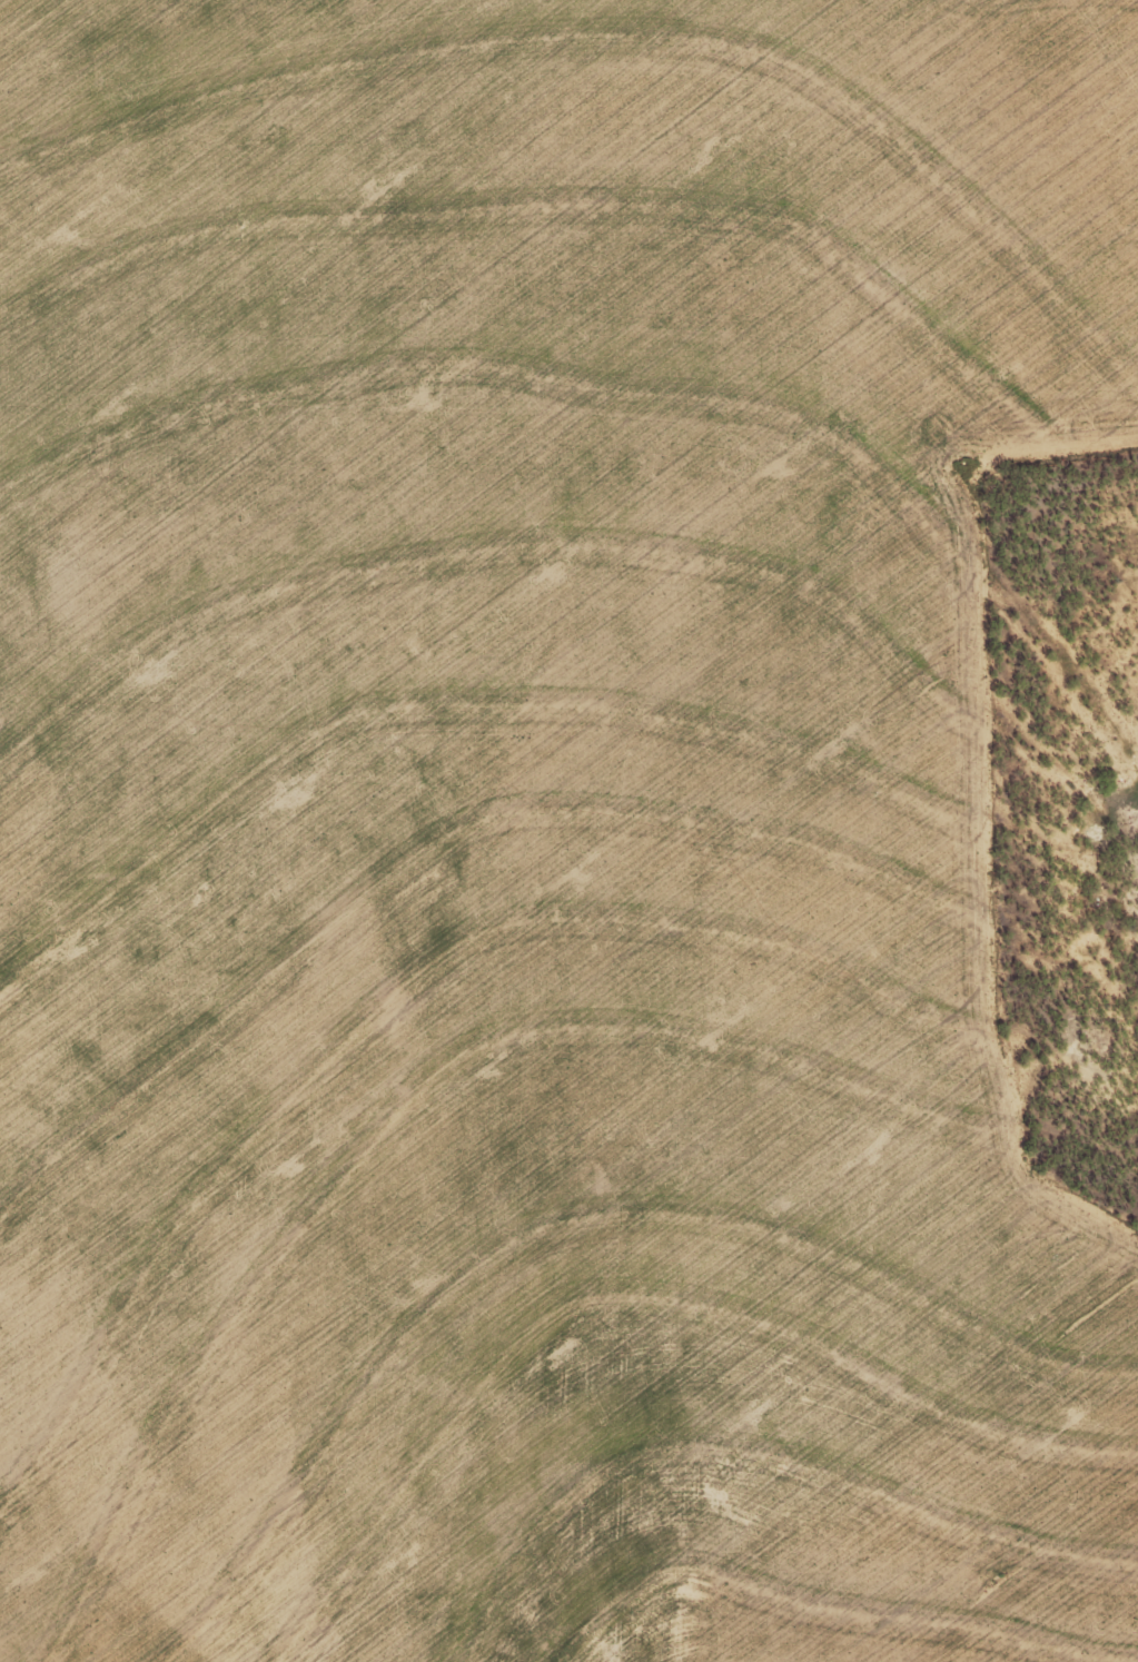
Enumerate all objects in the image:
road: (1081, 1121)

